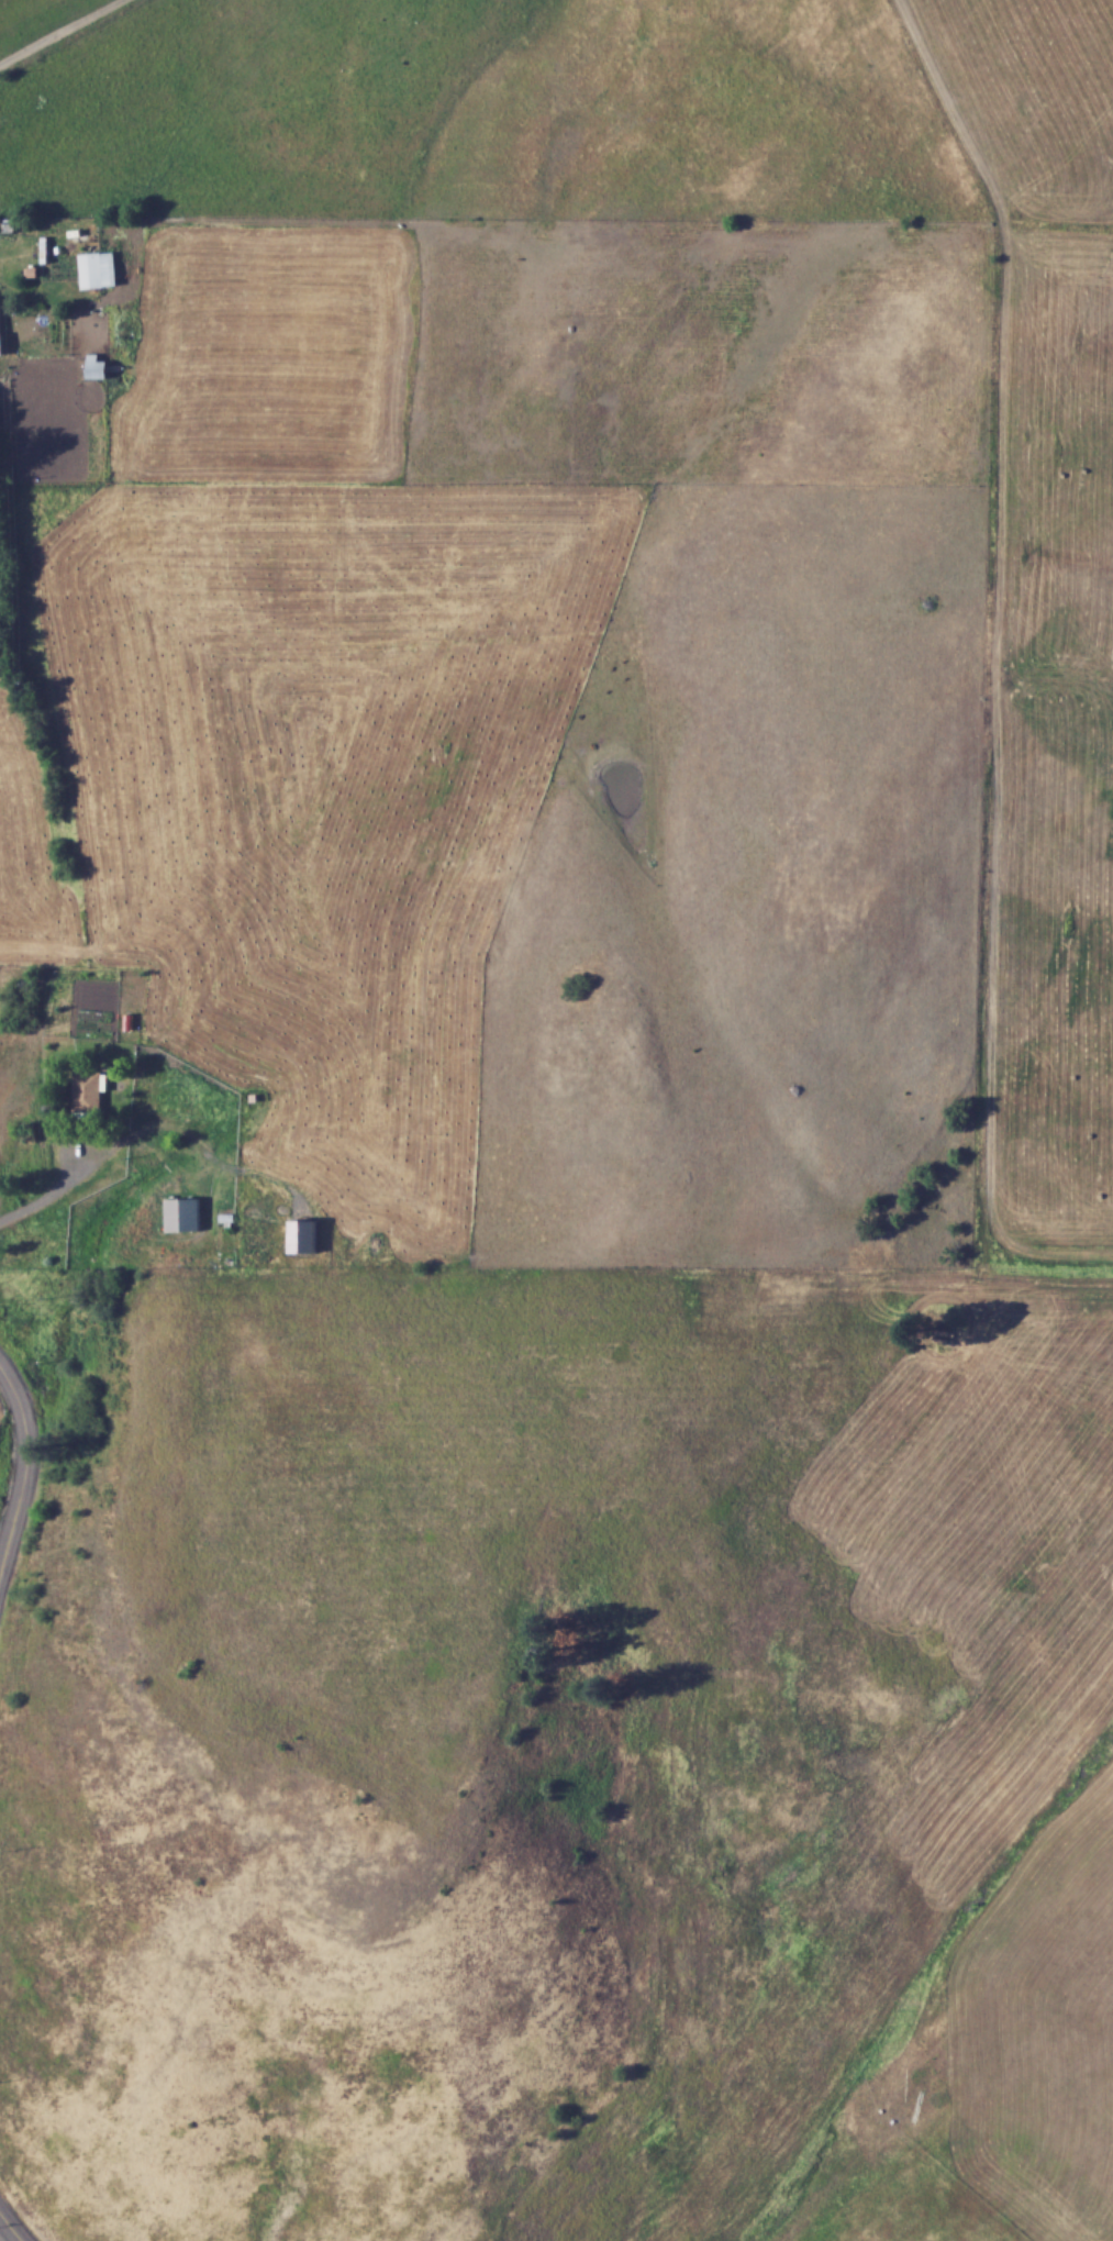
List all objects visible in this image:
road: (58, 31)
building: (98, 268)
building: (0, 348)
building: (98, 366)
building: (88, 1091)
road: (53, 1198)
building: (183, 1213)
road: (24, 1463)
road: (12, 2225)

